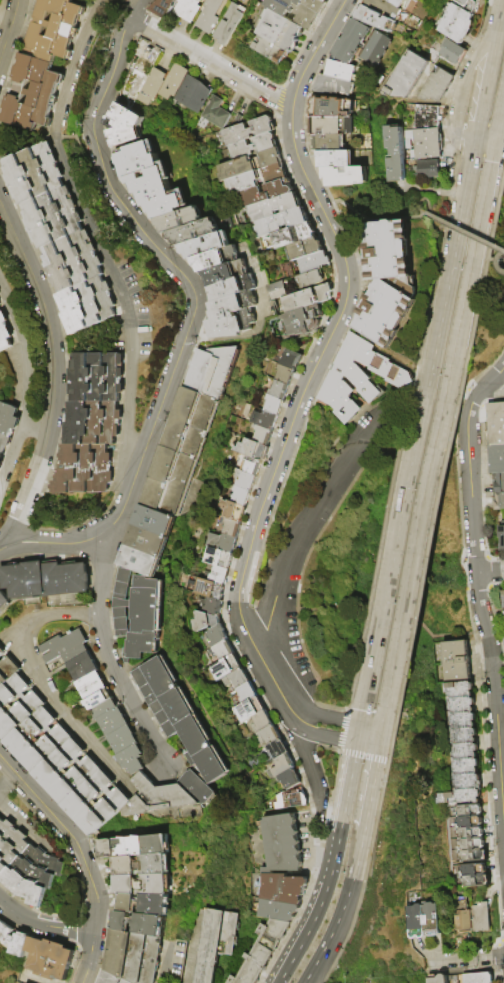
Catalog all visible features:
building: (328, 1)
building: (399, 2)
building: (469, 4)
building: (165, 8)
building: (386, 9)
building: (189, 10)
building: (301, 11)
building: (212, 15)
building: (377, 20)
building: (459, 23)
building: (230, 24)
road: (8, 26)
building: (54, 30)
building: (280, 30)
building: (364, 44)
building: (270, 50)
building: (455, 53)
road: (213, 61)
road: (490, 69)
building: (343, 71)
building: (140, 75)
building: (409, 77)
building: (175, 82)
road: (463, 83)
building: (334, 86)
building: (439, 86)
building: (154, 87)
building: (33, 94)
building: (195, 95)
road: (421, 103)
building: (333, 108)
road: (500, 110)
building: (216, 115)
building: (428, 117)
building: (126, 126)
building: (333, 126)
traffic signals: (497, 129)
building: (249, 131)
road: (54, 132)
road: (488, 136)
traffic signals: (477, 138)
building: (329, 143)
building: (430, 144)
building: (253, 146)
building: (400, 158)
building: (337, 159)
building: (250, 165)
building: (430, 169)
building: (34, 173)
building: (346, 176)
building: (257, 179)
building: (152, 180)
road: (434, 191)
building: (269, 193)
road: (482, 204)
building: (274, 208)
road: (421, 211)
road: (368, 216)
building: (54, 217)
building: (182, 220)
building: (282, 222)
road: (430, 224)
road: (463, 231)
building: (196, 232)
building: (292, 236)
building: (207, 246)
building: (305, 249)
road: (479, 257)
building: (217, 259)
road: (492, 260)
building: (74, 261)
road: (497, 262)
road: (497, 262)
building: (314, 263)
road: (497, 263)
road: (451, 268)
building: (228, 273)
building: (312, 279)
building: (388, 282)
building: (234, 288)
building: (0, 295)
building: (309, 298)
building: (0, 304)
building: (88, 305)
road: (196, 308)
road: (125, 310)
building: (234, 316)
building: (306, 321)
road: (459, 322)
road: (263, 328)
road: (334, 328)
building: (5, 333)
building: (292, 360)
building: (215, 371)
road: (53, 372)
building: (286, 375)
building: (99, 377)
building: (359, 377)
road: (25, 384)
road: (494, 388)
building: (280, 390)
road: (407, 402)
building: (275, 405)
road: (129, 417)
building: (265, 420)
building: (94, 423)
building: (497, 423)
building: (8, 424)
road: (34, 429)
building: (263, 436)
building: (252, 450)
building: (183, 452)
building: (0, 456)
building: (497, 459)
building: (1, 466)
building: (253, 466)
building: (86, 470)
building: (248, 480)
building: (500, 490)
building: (242, 495)
building: (234, 511)
building: (156, 523)
building: (232, 529)
road: (308, 530)
building: (502, 534)
road: (417, 535)
building: (148, 544)
building: (221, 544)
road: (395, 550)
building: (218, 559)
building: (142, 563)
road: (490, 572)
building: (220, 576)
building: (47, 580)
road: (477, 585)
building: (210, 589)
building: (503, 594)
building: (4, 601)
building: (124, 603)
building: (210, 607)
building: (147, 618)
building: (204, 622)
building: (217, 635)
building: (503, 641)
building: (224, 650)
building: (2, 652)
road: (107, 652)
building: (459, 662)
building: (227, 668)
building: (8, 672)
building: (239, 679)
road: (41, 682)
road: (283, 688)
building: (247, 693)
building: (18, 706)
building: (251, 709)
road: (363, 713)
building: (181, 717)
road: (385, 717)
building: (111, 718)
road: (344, 720)
building: (263, 722)
traffic signals: (361, 724)
traffic signals: (384, 728)
road: (359, 734)
building: (271, 735)
road: (325, 737)
road: (382, 738)
building: (40, 741)
traffic signals: (357, 744)
road: (369, 746)
traffic signals: (381, 748)
building: (465, 748)
building: (279, 749)
building: (128, 750)
road: (307, 755)
building: (282, 767)
building: (69, 772)
road: (6, 778)
building: (291, 779)
road: (373, 788)
building: (200, 789)
building: (157, 797)
building: (292, 800)
building: (98, 803)
building: (473, 812)
building: (474, 823)
road: (27, 829)
road: (69, 834)
building: (475, 834)
road: (314, 835)
building: (283, 844)
building: (10, 846)
building: (475, 846)
building: (135, 847)
road: (360, 854)
building: (476, 857)
building: (144, 865)
road: (332, 868)
building: (477, 871)
building: (34, 875)
building: (478, 882)
building: (147, 885)
building: (285, 889)
building: (148, 904)
building: (279, 911)
building: (461, 912)
building: (478, 914)
building: (413, 918)
building: (430, 918)
building: (140, 924)
road: (337, 924)
road: (43, 925)
building: (17, 941)
building: (221, 945)
building: (265, 951)
road: (465, 953)
road: (89, 957)
building: (137, 957)
building: (52, 960)
road: (170, 963)
road: (309, 974)
road: (314, 974)
building: (474, 977)
building: (115, 978)
building: (436, 978)
building: (21, 982)

